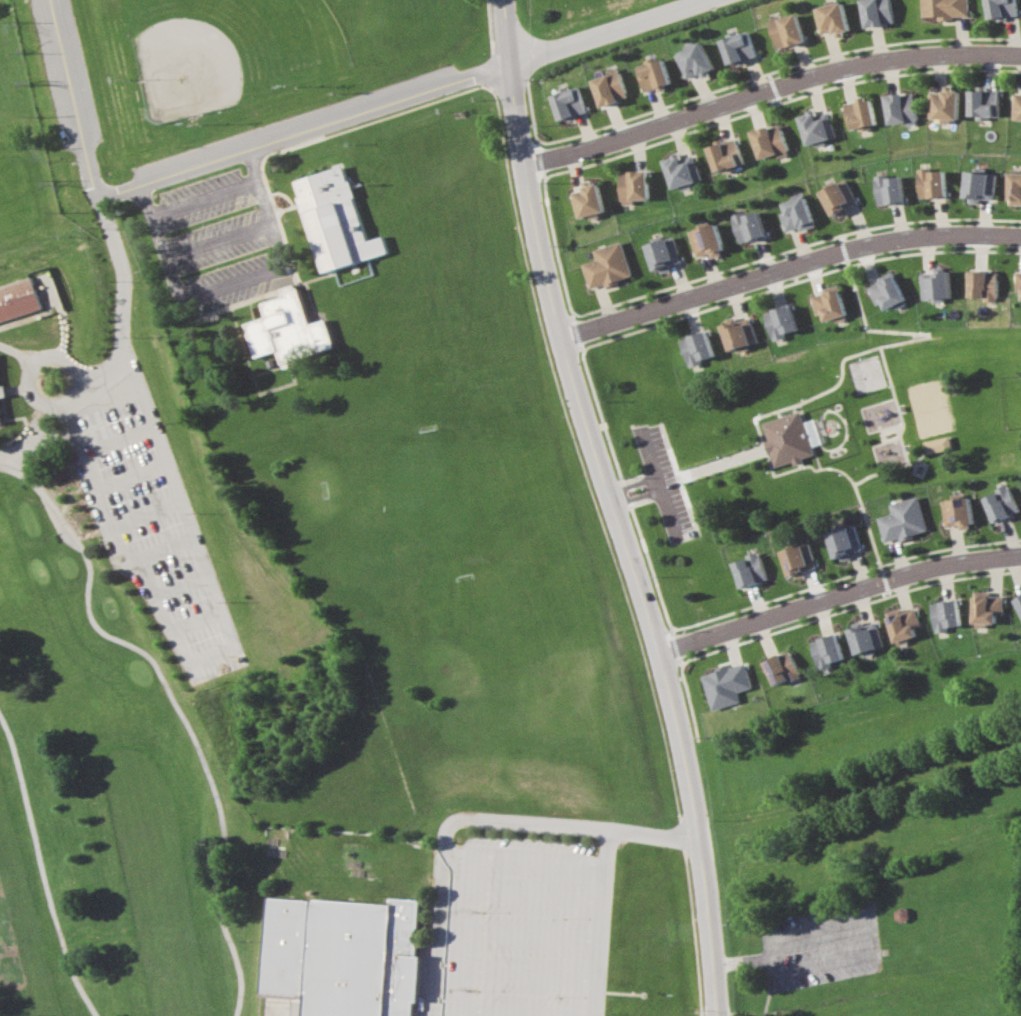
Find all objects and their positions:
building: (946, 7)
building: (1002, 7)
building: (877, 11)
building: (830, 15)
road: (486, 25)
building: (785, 28)
building: (738, 46)
park: (228, 50)
building: (695, 59)
building: (653, 73)
road: (756, 75)
building: (609, 87)
road: (768, 87)
road: (706, 92)
road: (72, 97)
road: (395, 98)
building: (983, 101)
building: (568, 102)
building: (942, 102)
building: (1016, 103)
road: (659, 104)
building: (899, 106)
building: (856, 113)
road: (722, 115)
road: (617, 119)
building: (812, 126)
road: (589, 128)
road: (677, 129)
building: (766, 140)
road: (636, 142)
building: (723, 153)
road: (573, 165)
building: (681, 169)
building: (932, 181)
building: (632, 184)
building: (980, 184)
building: (888, 189)
building: (1014, 189)
building: (837, 197)
building: (586, 199)
road: (201, 200)
building: (794, 213)
building: (334, 220)
building: (747, 224)
building: (704, 240)
building: (663, 252)
building: (606, 265)
road: (786, 265)
building: (1017, 282)
building: (982, 284)
road: (120, 288)
building: (884, 291)
building: (18, 299)
building: (826, 303)
building: (777, 320)
building: (288, 329)
building: (736, 333)
road: (575, 334)
building: (694, 347)
building: (2, 391)
road: (800, 402)
building: (0, 419)
building: (813, 432)
road: (899, 433)
road: (115, 436)
building: (786, 438)
park: (806, 446)
building: (936, 446)
road: (721, 463)
road: (128, 474)
road: (679, 479)
road: (670, 480)
road: (662, 483)
road: (638, 494)
building: (1000, 503)
road: (615, 507)
building: (957, 512)
road: (142, 516)
building: (902, 519)
road: (635, 521)
park: (437, 537)
building: (843, 541)
road: (153, 549)
building: (797, 559)
building: (749, 570)
road: (174, 585)
road: (840, 596)
building: (1019, 601)
building: (986, 608)
building: (946, 614)
park: (111, 621)
road: (191, 621)
building: (902, 624)
building: (865, 637)
road: (222, 641)
road: (673, 647)
building: (826, 650)
building: (781, 668)
building: (725, 685)
road: (858, 790)
road: (476, 819)
road: (599, 923)
road: (867, 935)
park: (888, 946)
building: (342, 954)
road: (741, 960)

